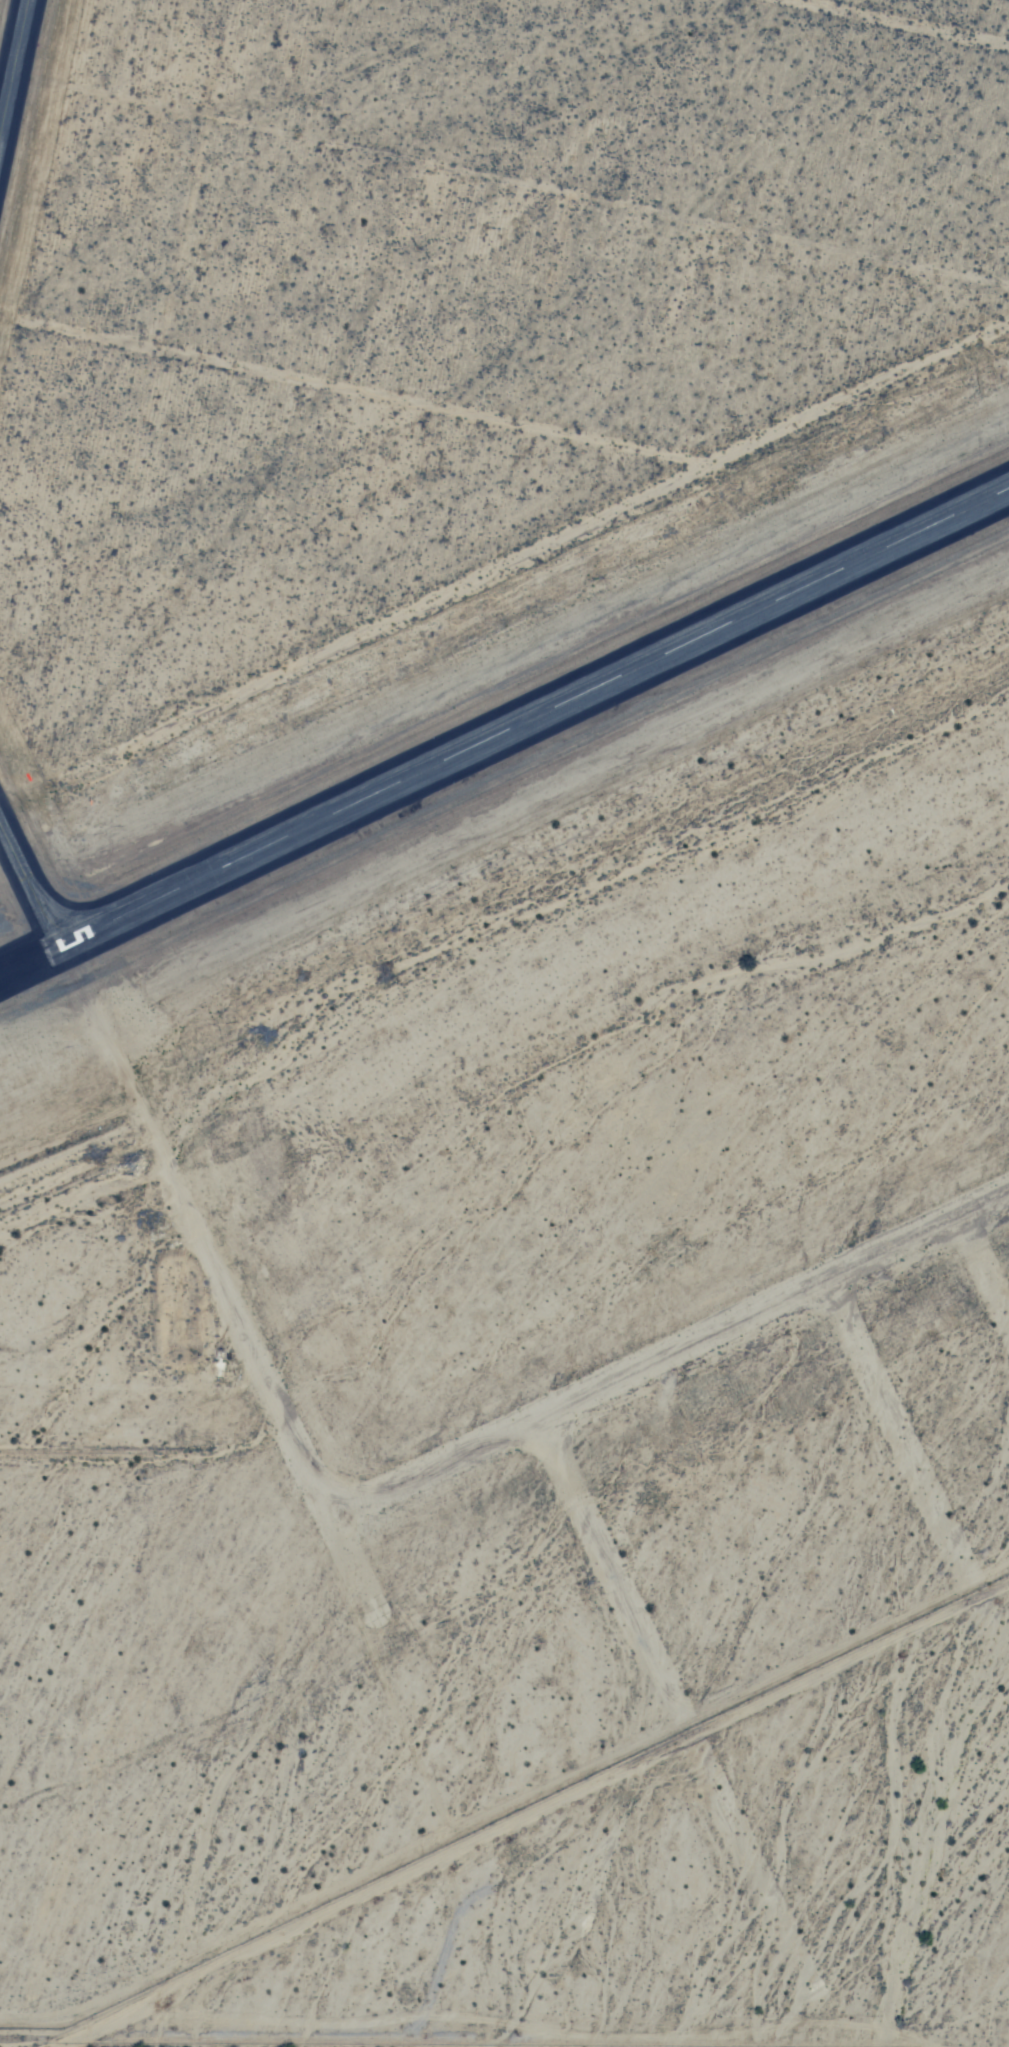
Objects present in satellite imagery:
airport taxiway: (14, 68)
airport: (18, 89)
airport runway: (520, 721)
airport: (501, 745)
airport taxiway: (33, 891)
airport runway: (16, 964)
crop: (968, 1824)

